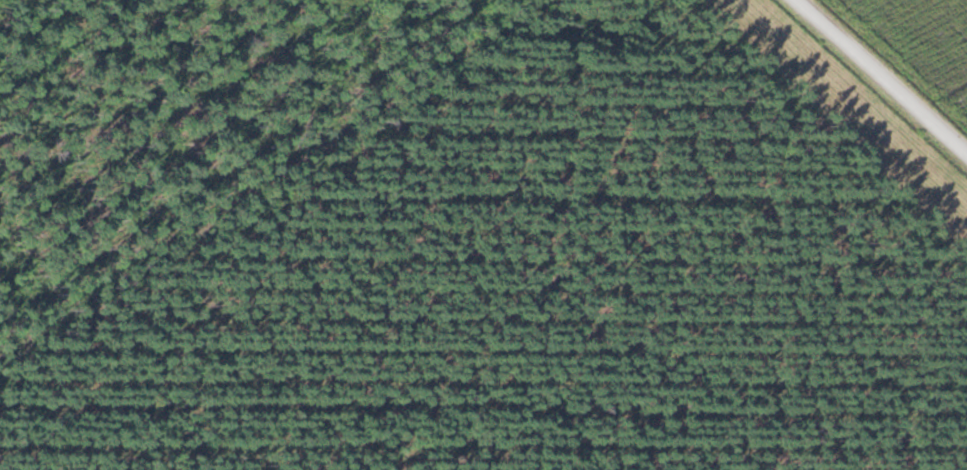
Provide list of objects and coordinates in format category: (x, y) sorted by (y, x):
road: (883, 75)

